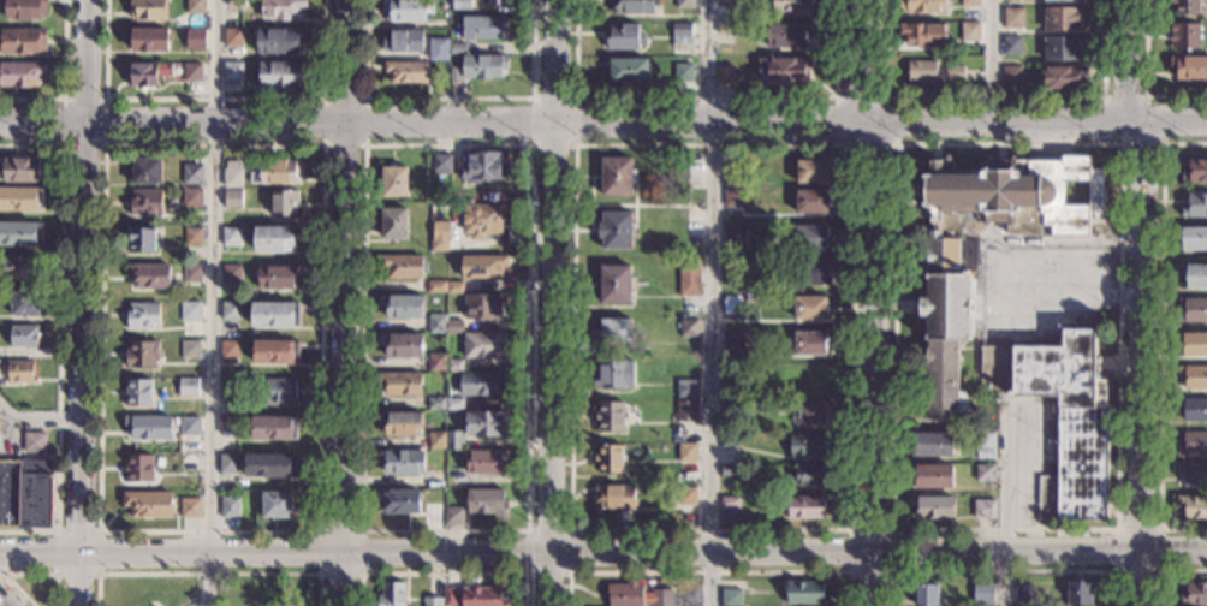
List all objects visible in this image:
building: (1056, 0)
building: (495, 1)
building: (683, 2)
building: (725, 2)
building: (968, 2)
building: (234, 4)
building: (458, 4)
building: (790, 5)
building: (194, 6)
building: (631, 6)
building: (921, 6)
building: (1184, 6)
building: (23, 8)
building: (280, 8)
building: (145, 10)
building: (405, 10)
building: (1011, 17)
building: (1062, 18)
building: (481, 25)
building: (723, 29)
building: (969, 31)
building: (922, 34)
building: (680, 35)
building: (785, 35)
building: (620, 36)
building: (1183, 36)
building: (231, 37)
building: (145, 38)
building: (192, 38)
building: (400, 40)
building: (278, 41)
building: (22, 42)
building: (1010, 44)
building: (1060, 47)
building: (457, 49)
building: (439, 55)
road: (992, 60)
road: (84, 61)
building: (481, 65)
building: (1188, 67)
building: (781, 69)
building: (625, 70)
building: (231, 71)
building: (929, 71)
building: (190, 72)
building: (404, 72)
building: (20, 73)
building: (145, 73)
building: (279, 73)
building: (723, 75)
building: (1009, 75)
building: (453, 76)
building: (1060, 76)
road: (1144, 78)
building: (682, 79)
road: (63, 81)
road: (992, 96)
road: (447, 97)
road: (703, 97)
road: (212, 99)
road: (603, 124)
road: (896, 141)
road: (1161, 142)
road: (103, 144)
road: (363, 144)
road: (573, 145)
building: (441, 164)
building: (483, 166)
building: (145, 170)
building: (19, 171)
building: (811, 171)
building: (1195, 171)
building: (274, 173)
building: (191, 174)
building: (232, 174)
building: (617, 176)
building: (733, 176)
building: (393, 182)
building: (1018, 194)
building: (191, 198)
building: (231, 198)
building: (733, 198)
building: (20, 200)
building: (810, 201)
building: (145, 202)
building: (283, 203)
building: (1195, 206)
building: (486, 221)
building: (393, 222)
building: (616, 230)
building: (20, 234)
building: (439, 236)
building: (735, 236)
building: (807, 236)
building: (191, 237)
building: (231, 237)
building: (275, 238)
building: (1194, 238)
building: (142, 239)
building: (402, 266)
building: (482, 266)
building: (20, 268)
building: (732, 271)
building: (810, 272)
building: (191, 274)
building: (231, 274)
building: (1194, 274)
building: (149, 275)
road: (551, 275)
building: (275, 277)
building: (689, 277)
building: (614, 284)
building: (435, 286)
building: (454, 287)
road: (873, 301)
road: (1140, 301)
road: (712, 302)
building: (24, 303)
road: (212, 303)
road: (346, 303)
building: (731, 303)
building: (402, 307)
building: (483, 307)
building: (810, 308)
building: (1193, 310)
building: (190, 311)
building: (230, 311)
building: (945, 313)
building: (143, 315)
building: (274, 315)
building: (436, 323)
building: (454, 326)
building: (688, 327)
building: (617, 329)
road: (59, 334)
road: (1161, 335)
building: (24, 337)
road: (82, 338)
building: (733, 340)
building: (809, 343)
building: (1195, 343)
building: (402, 345)
building: (483, 345)
building: (190, 350)
building: (228, 350)
building: (275, 352)
building: (142, 353)
building: (435, 362)
building: (454, 364)
building: (19, 372)
building: (612, 375)
building: (1194, 376)
building: (809, 378)
building: (482, 382)
building: (400, 384)
building: (188, 387)
building: (230, 387)
building: (686, 388)
building: (280, 391)
building: (138, 393)
building: (435, 404)
building: (454, 404)
building: (730, 406)
building: (1193, 409)
building: (686, 411)
building: (808, 412)
building: (610, 416)
road: (38, 417)
building: (1062, 417)
building: (400, 423)
building: (486, 423)
building: (189, 426)
building: (227, 426)
building: (149, 427)
building: (274, 428)
building: (436, 440)
building: (454, 440)
building: (729, 441)
building: (985, 441)
building: (35, 442)
building: (932, 444)
building: (1193, 444)
building: (807, 446)
building: (688, 452)
building: (985, 456)
building: (610, 458)
building: (402, 462)
building: (486, 462)
building: (188, 463)
building: (228, 463)
building: (270, 465)
building: (138, 469)
building: (729, 470)
building: (983, 473)
building: (1193, 474)
building: (809, 475)
building: (932, 476)
building: (25, 494)
building: (686, 495)
building: (614, 498)
building: (399, 501)
building: (487, 501)
building: (730, 503)
road: (1003, 503)
building: (148, 504)
building: (275, 505)
building: (1193, 506)
building: (189, 507)
building: (230, 507)
building: (805, 507)
building: (934, 507)
building: (985, 509)
building: (434, 516)
building: (453, 516)
road: (850, 528)
road: (527, 529)
road: (1117, 529)
road: (319, 530)
road: (1118, 549)
road: (1161, 549)
road: (603, 552)
road: (892, 569)
road: (710, 571)
road: (1004, 571)
road: (1166, 571)
road: (567, 572)
road: (25, 574)
road: (97, 574)
road: (208, 574)
road: (358, 574)
road: (442, 574)
road: (4, 575)
road: (545, 578)
road: (81, 581)
building: (804, 593)
building: (982, 593)
building: (1080, 593)
building: (391, 594)
building: (637, 594)
building: (1024, 594)
building: (1194, 594)
building: (927, 595)
building: (450, 596)
building: (482, 596)
building: (730, 596)
building: (432, 601)
road: (1, 604)

